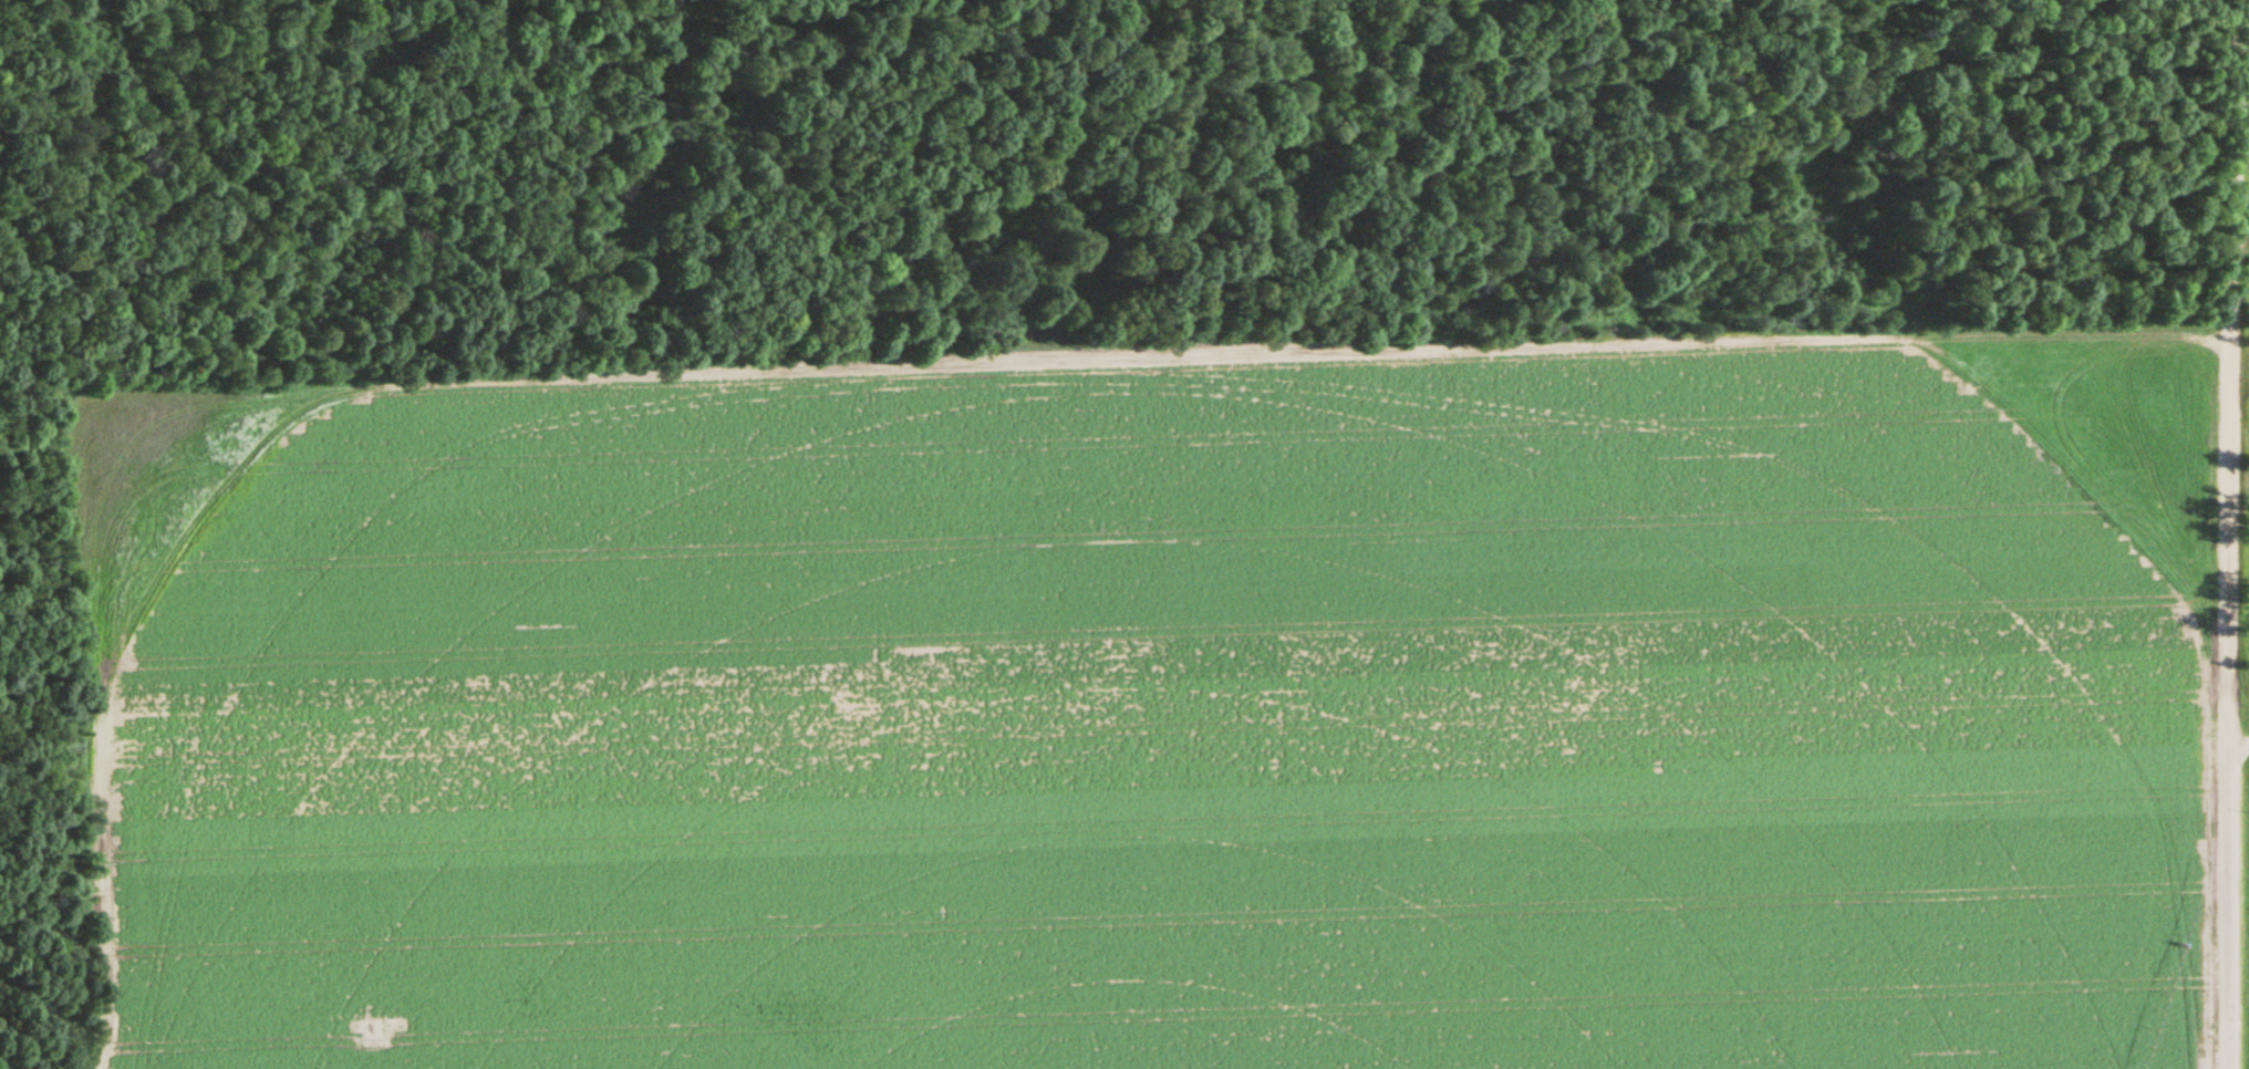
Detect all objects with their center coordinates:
road: (2242, 197)
road: (2232, 533)

